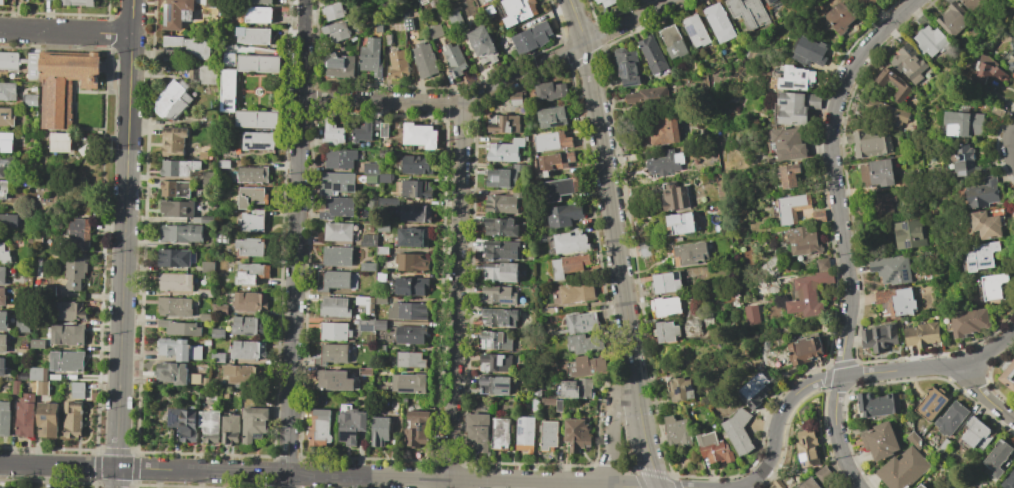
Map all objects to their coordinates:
building: (487, 0)
building: (421, 1)
building: (629, 1)
building: (769, 1)
building: (2, 2)
building: (259, 2)
building: (606, 2)
building: (867, 2)
building: (77, 3)
building: (432, 3)
building: (972, 4)
building: (518, 11)
building: (333, 12)
building: (749, 12)
building: (176, 13)
building: (259, 15)
building: (453, 17)
building: (841, 17)
building: (953, 19)
building: (406, 22)
building: (718, 22)
road: (305, 28)
building: (377, 28)
building: (336, 31)
building: (435, 31)
building: (695, 31)
road: (66, 32)
building: (259, 36)
building: (532, 37)
building: (386, 39)
building: (931, 41)
building: (673, 42)
building: (483, 45)
building: (190, 46)
building: (812, 52)
building: (652, 54)
building: (371, 56)
building: (1009, 57)
building: (425, 59)
building: (455, 60)
building: (9, 61)
building: (260, 63)
building: (909, 63)
building: (398, 64)
building: (33, 66)
building: (339, 66)
building: (627, 67)
building: (990, 72)
building: (208, 73)
building: (796, 78)
road: (131, 81)
building: (64, 83)
building: (894, 86)
road: (494, 87)
building: (33, 88)
building: (228, 90)
building: (550, 90)
building: (8, 91)
building: (645, 96)
building: (31, 99)
building: (173, 99)
building: (514, 99)
building: (814, 101)
building: (792, 108)
building: (996, 111)
building: (886, 113)
building: (6, 117)
building: (552, 117)
building: (258, 119)
building: (502, 123)
building: (377, 124)
building: (964, 124)
building: (384, 130)
building: (363, 131)
building: (663, 131)
building: (332, 134)
building: (419, 135)
building: (173, 141)
building: (257, 141)
building: (553, 141)
building: (6, 142)
building: (61, 142)
building: (870, 142)
building: (787, 144)
road: (1011, 146)
building: (504, 150)
building: (203, 155)
building: (342, 158)
building: (964, 160)
building: (556, 162)
building: (666, 163)
building: (223, 164)
building: (6, 165)
building: (416, 165)
building: (179, 168)
building: (370, 168)
building: (360, 171)
building: (876, 173)
building: (252, 174)
building: (790, 176)
building: (505, 177)
building: (384, 178)
building: (371, 180)
building: (337, 183)
building: (175, 188)
building: (560, 188)
building: (3, 189)
building: (416, 189)
building: (983, 193)
building: (674, 196)
building: (252, 197)
building: (390, 202)
building: (503, 203)
building: (372, 204)
building: (882, 204)
building: (178, 208)
building: (337, 208)
building: (792, 208)
building: (414, 213)
building: (564, 215)
building: (819, 216)
building: (8, 220)
building: (200, 220)
building: (251, 221)
building: (989, 222)
building: (679, 224)
building: (500, 227)
building: (383, 229)
building: (338, 231)
road: (843, 231)
building: (80, 233)
building: (181, 233)
building: (910, 234)
building: (414, 237)
building: (221, 238)
building: (369, 240)
building: (571, 241)
building: (804, 241)
road: (614, 243)
building: (249, 247)
building: (644, 249)
building: (501, 250)
building: (382, 251)
building: (4, 253)
building: (690, 254)
building: (337, 255)
building: (982, 256)
building: (175, 257)
building: (412, 262)
building: (823, 264)
building: (568, 266)
building: (207, 267)
building: (368, 267)
building: (892, 270)
building: (500, 271)
building: (74, 272)
road: (295, 272)
building: (250, 273)
building: (2, 275)
building: (385, 276)
building: (337, 280)
building: (175, 282)
building: (666, 283)
building: (411, 285)
building: (991, 286)
building: (577, 292)
building: (207, 293)
building: (809, 294)
building: (498, 295)
building: (2, 296)
road: (457, 296)
building: (364, 299)
building: (380, 299)
building: (250, 301)
building: (896, 302)
building: (176, 306)
building: (665, 306)
building: (334, 307)
building: (219, 309)
building: (68, 311)
building: (407, 311)
building: (550, 311)
building: (751, 315)
building: (205, 317)
building: (498, 317)
building: (707, 317)
building: (3, 320)
building: (581, 322)
building: (969, 322)
building: (708, 323)
road: (122, 325)
building: (248, 325)
building: (365, 325)
building: (380, 325)
building: (23, 326)
building: (181, 328)
building: (335, 331)
building: (666, 332)
building: (218, 333)
building: (922, 333)
building: (68, 334)
building: (409, 335)
building: (879, 337)
building: (495, 340)
building: (3, 343)
building: (37, 343)
building: (585, 343)
building: (179, 349)
building: (248, 350)
building: (805, 350)
building: (23, 352)
building: (336, 354)
building: (217, 357)
building: (410, 359)
building: (67, 361)
building: (496, 363)
building: (2, 366)
building: (587, 366)
building: (365, 371)
building: (36, 373)
building: (176, 373)
building: (242, 374)
building: (22, 375)
road: (846, 376)
building: (1008, 376)
building: (334, 380)
building: (408, 383)
building: (494, 385)
building: (757, 386)
building: (42, 388)
building: (575, 388)
building: (680, 388)
building: (78, 390)
road: (982, 391)
building: (537, 392)
building: (225, 394)
building: (549, 401)
building: (931, 403)
building: (877, 404)
building: (535, 405)
building: (559, 406)
building: (25, 415)
building: (5, 418)
building: (48, 419)
building: (73, 419)
building: (951, 419)
building: (184, 422)
building: (254, 424)
building: (210, 426)
building: (352, 426)
building: (320, 428)
building: (230, 429)
building: (418, 429)
building: (380, 431)
building: (477, 431)
building: (738, 431)
building: (677, 432)
road: (611, 433)
building: (977, 433)
building: (501, 434)
building: (525, 434)
building: (576, 434)
building: (549, 435)
building: (880, 440)
building: (915, 440)
building: (944, 444)
building: (714, 448)
building: (808, 448)
building: (998, 457)
building: (903, 469)
road: (184, 470)
building: (824, 475)
building: (1008, 480)
road: (523, 482)
building: (778, 484)
building: (809, 484)
building: (921, 486)
building: (2, 487)
road: (610, 487)

